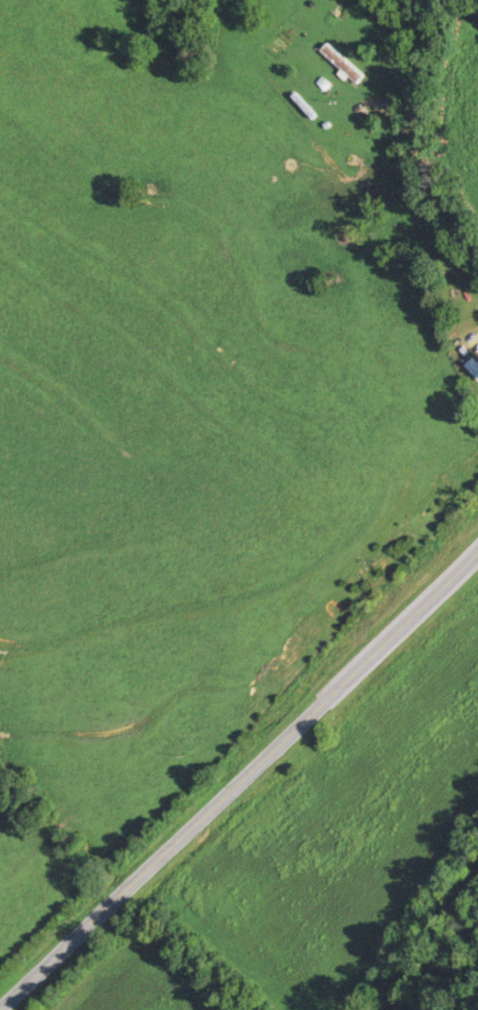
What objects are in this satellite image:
road: (432, 125)
building: (474, 367)
road: (240, 784)

